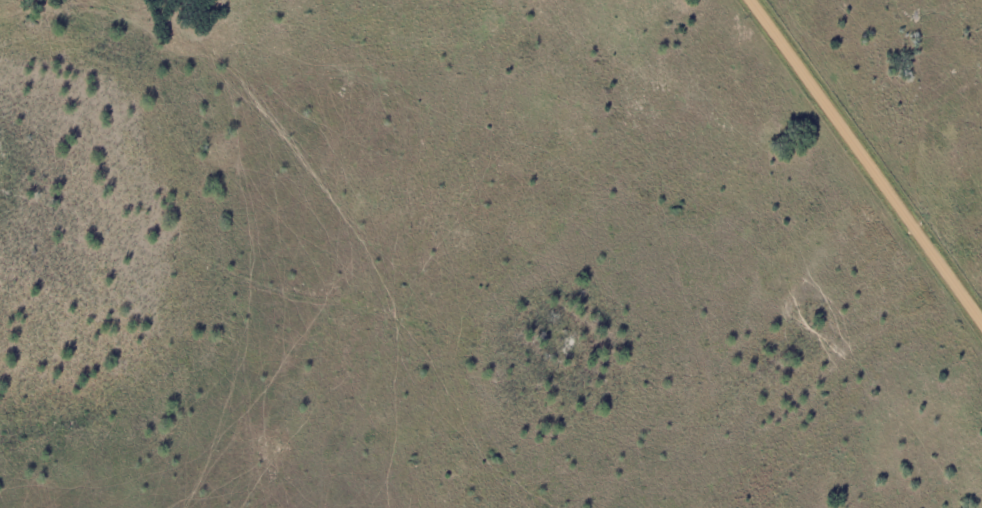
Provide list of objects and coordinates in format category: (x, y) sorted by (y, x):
road: (869, 155)

